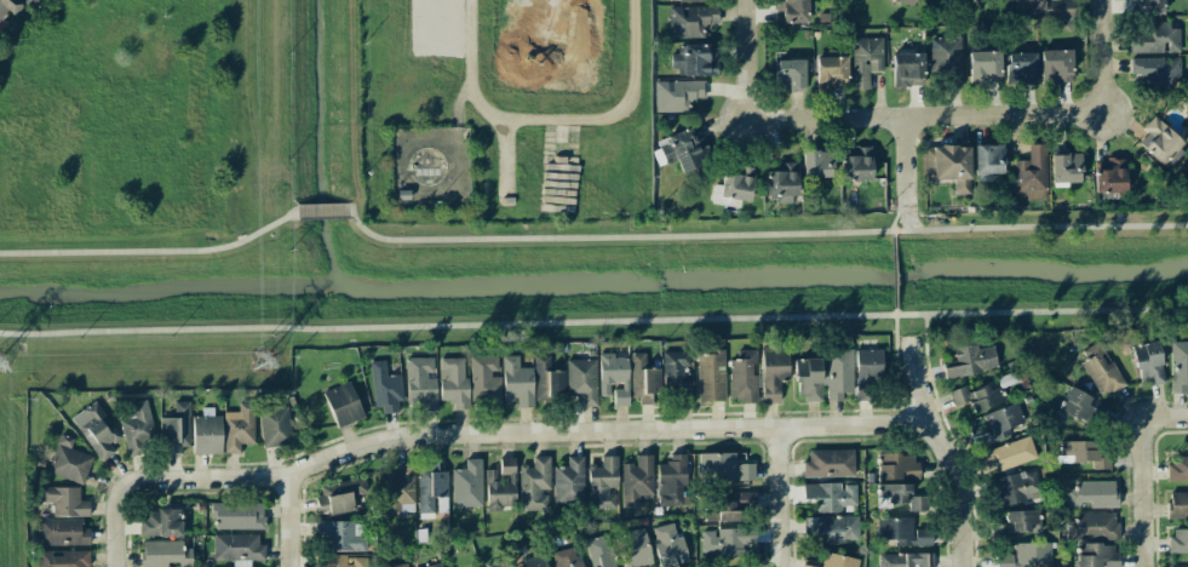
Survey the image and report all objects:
building: (25, 0)
building: (689, 0)
building: (963, 0)
building: (905, 1)
building: (1146, 7)
building: (8, 8)
building: (1043, 8)
building: (792, 11)
building: (691, 19)
building: (1154, 39)
road: (746, 57)
road: (1108, 57)
building: (695, 61)
building: (865, 61)
building: (947, 61)
building: (1055, 65)
building: (985, 68)
building: (1021, 68)
building: (907, 69)
building: (1155, 70)
building: (831, 73)
building: (790, 74)
building: (676, 94)
road: (486, 104)
road: (619, 110)
road: (926, 116)
building: (1161, 143)
building: (681, 150)
building: (988, 161)
building: (816, 164)
road: (907, 164)
building: (948, 166)
building: (1066, 167)
building: (856, 168)
building: (1031, 171)
building: (1108, 176)
building: (781, 183)
building: (733, 188)
road: (321, 213)
road: (895, 219)
road: (762, 234)
road: (151, 252)
road: (894, 273)
road: (895, 311)
road: (593, 321)
road: (925, 344)
building: (971, 360)
power tower: (264, 363)
building: (1147, 363)
building: (1178, 366)
road: (899, 368)
building: (866, 370)
building: (1101, 370)
building: (773, 372)
road: (930, 374)
building: (676, 376)
building: (742, 376)
building: (825, 376)
building: (613, 377)
building: (711, 377)
building: (642, 378)
building: (547, 379)
road: (917, 379)
building: (581, 380)
building: (421, 382)
building: (453, 382)
building: (484, 382)
building: (516, 382)
building: (385, 388)
building: (976, 397)
building: (342, 405)
building: (1081, 407)
road: (1166, 417)
building: (999, 424)
building: (275, 425)
building: (176, 426)
building: (237, 428)
building: (138, 429)
building: (98, 430)
road: (515, 433)
building: (206, 435)
building: (1006, 454)
building: (1083, 454)
building: (69, 462)
building: (828, 463)
building: (896, 466)
building: (723, 468)
building: (1178, 468)
building: (636, 480)
building: (569, 481)
building: (671, 481)
building: (603, 483)
building: (466, 485)
building: (534, 485)
building: (501, 486)
building: (1016, 487)
road: (959, 489)
building: (398, 491)
building: (431, 492)
building: (1091, 494)
road: (1141, 494)
building: (340, 496)
building: (830, 496)
building: (897, 496)
road: (780, 497)
building: (64, 500)
building: (1177, 504)
building: (728, 508)
building: (237, 515)
road: (286, 521)
building: (159, 522)
building: (1016, 523)
building: (833, 527)
building: (61, 532)
building: (902, 532)
road: (120, 534)
building: (339, 535)
building: (727, 540)
building: (1178, 540)
building: (668, 545)
building: (237, 548)
building: (635, 548)
building: (599, 551)
building: (165, 554)
building: (1026, 555)
building: (1096, 555)
building: (566, 557)
building: (65, 559)
building: (906, 560)
building: (343, 561)
building: (832, 561)
building: (533, 562)
building: (500, 563)
building: (398, 566)
building: (436, 566)

